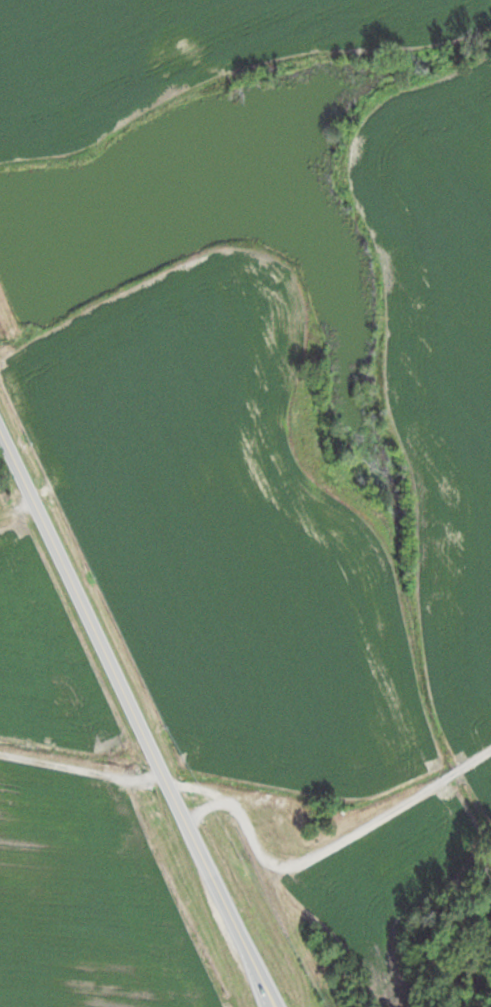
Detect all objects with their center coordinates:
road: (136, 717)
road: (358, 828)

